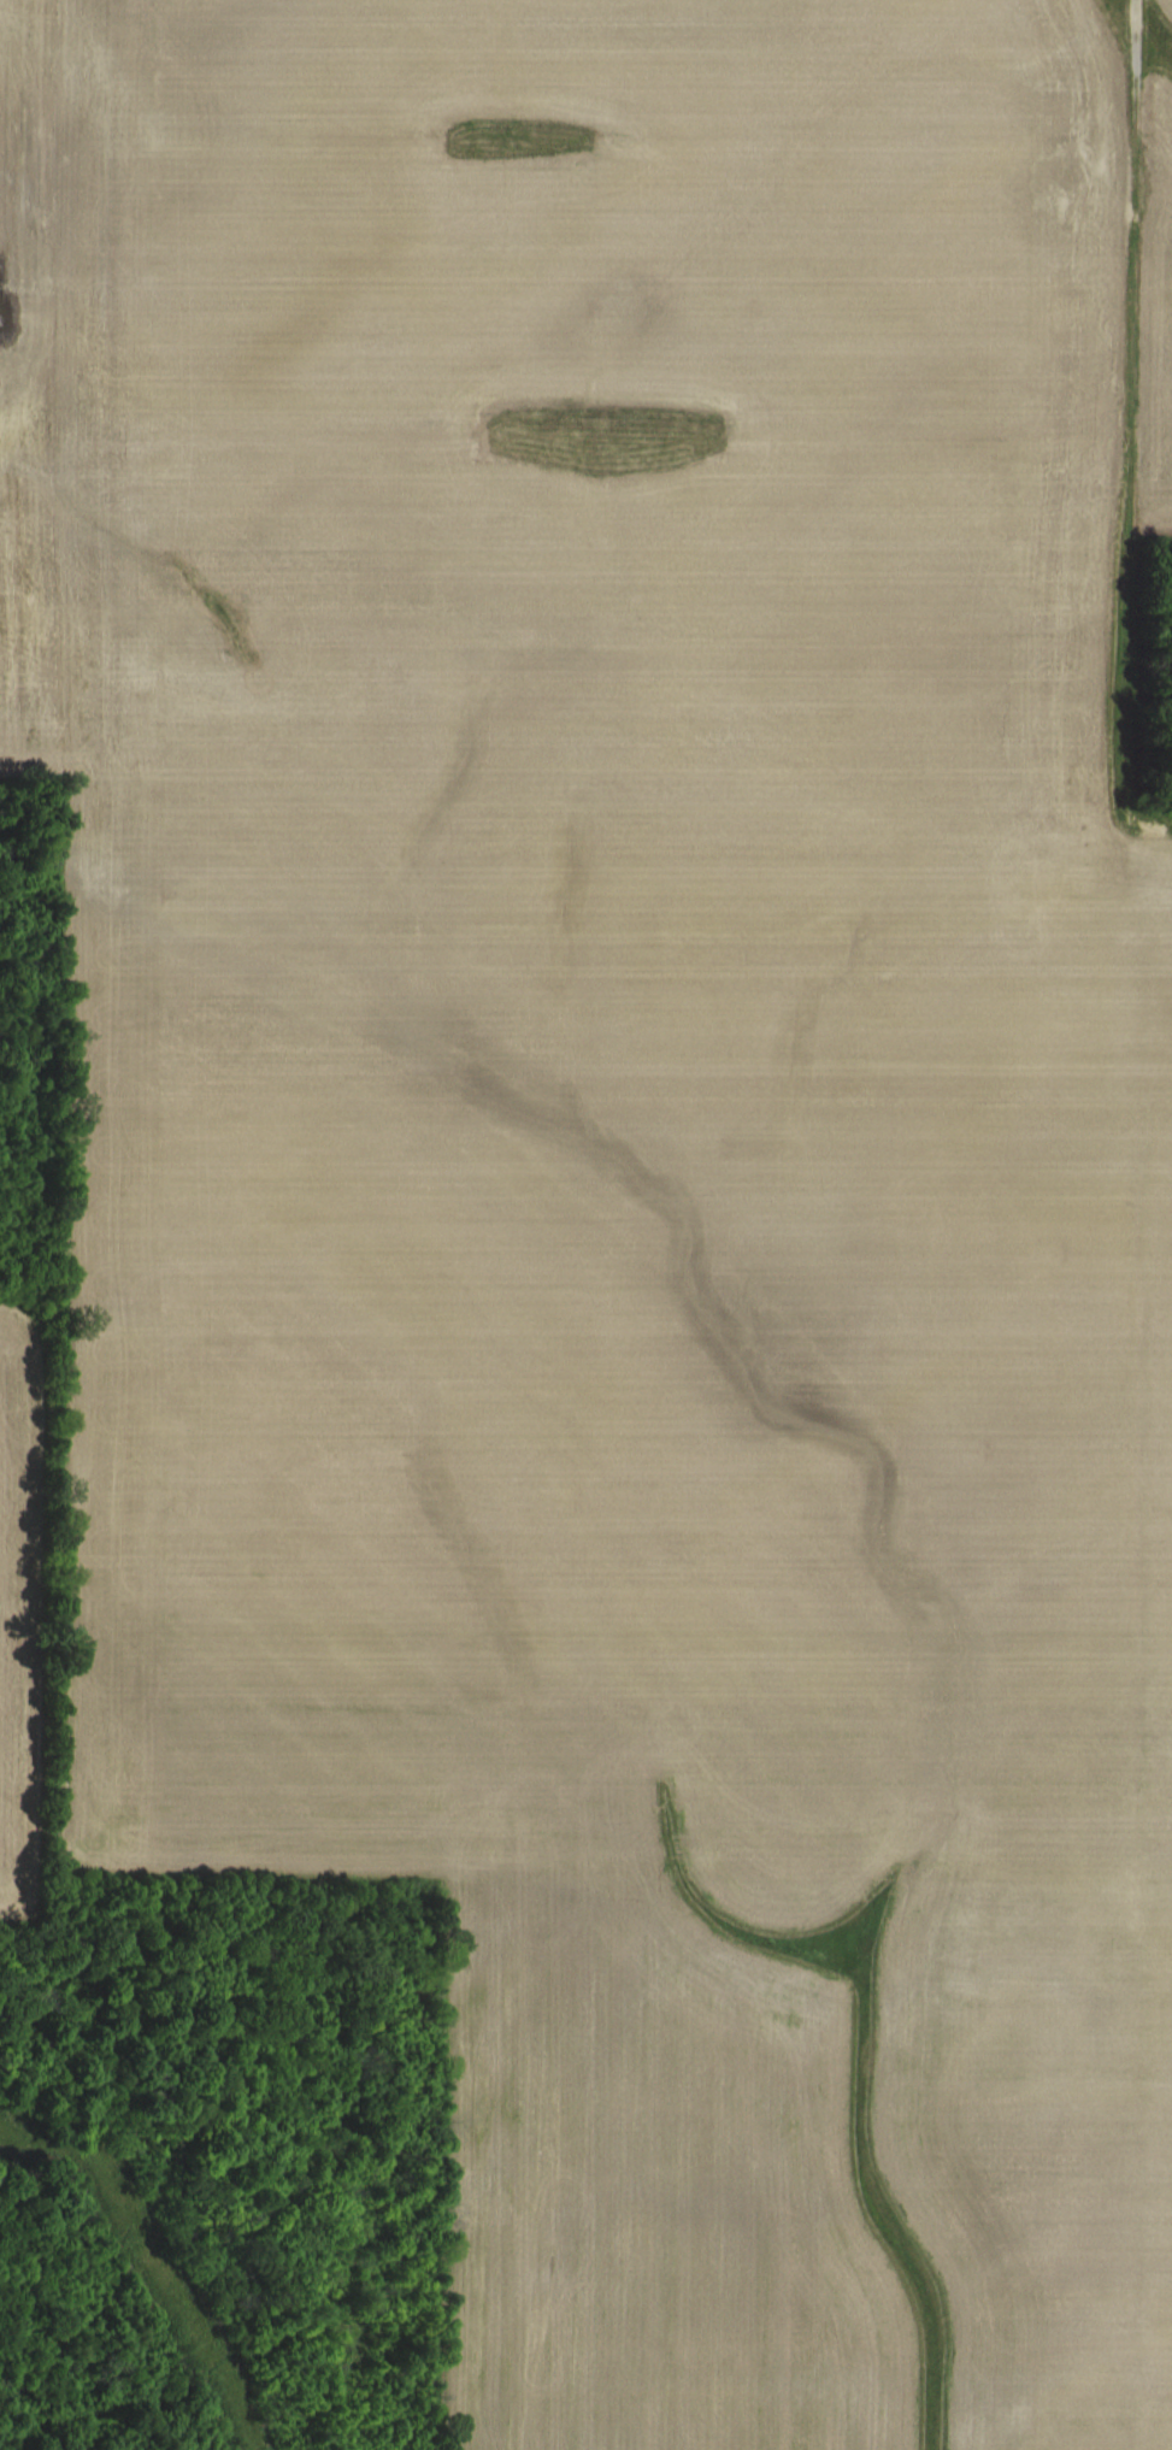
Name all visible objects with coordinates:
crop: (585, 1225)

